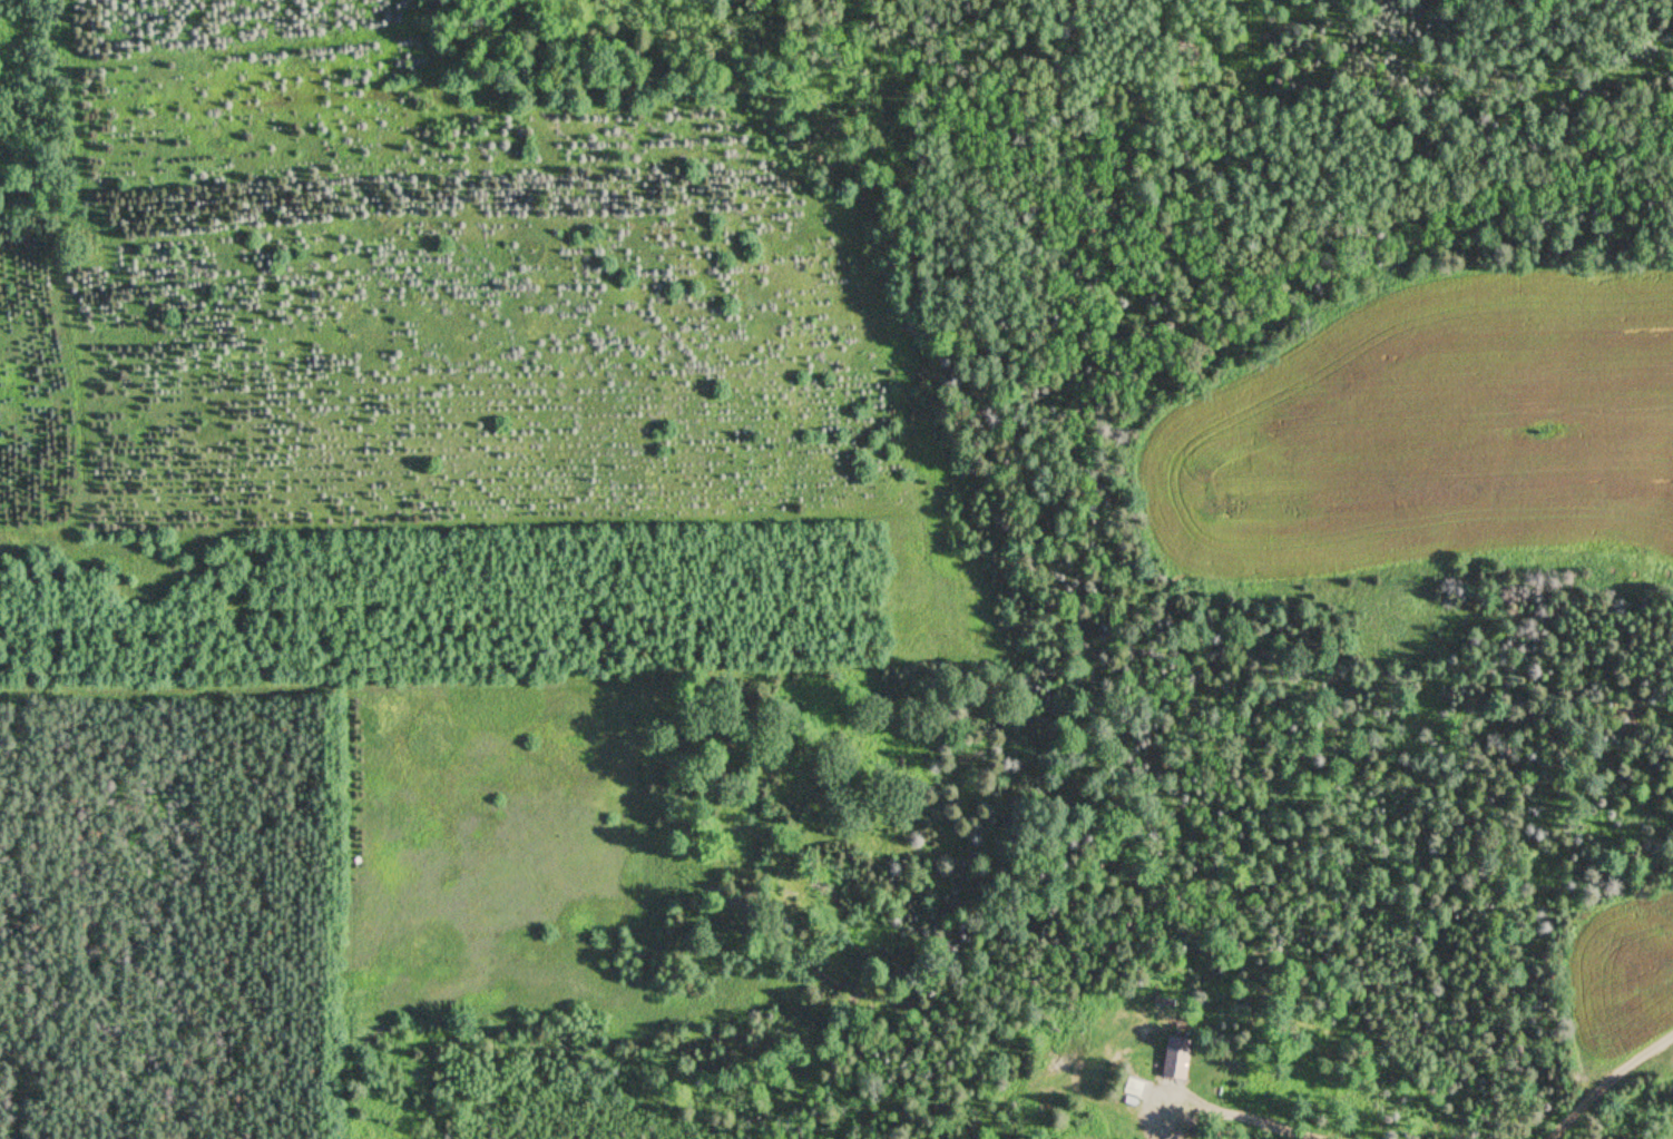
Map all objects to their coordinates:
building: (1161, 1015)
building: (1172, 1060)

